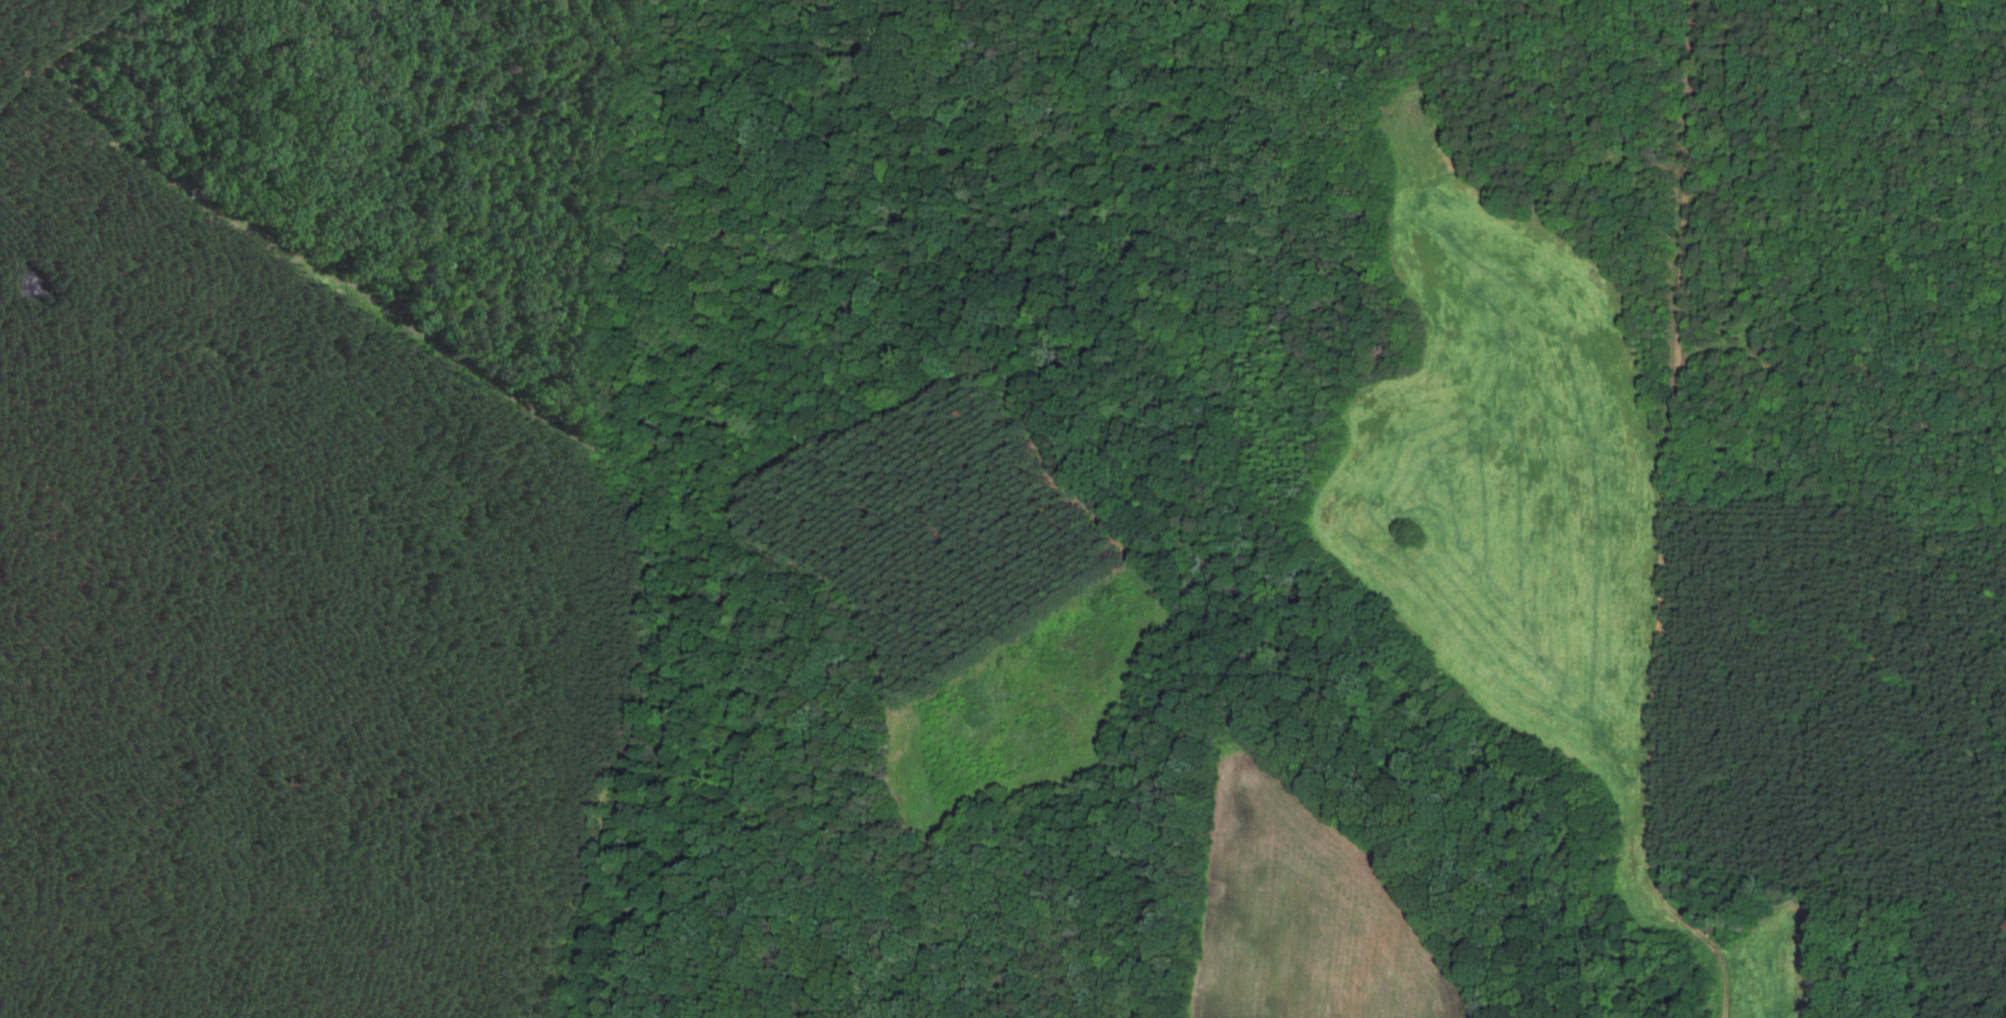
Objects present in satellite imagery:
road: (1646, 513)

